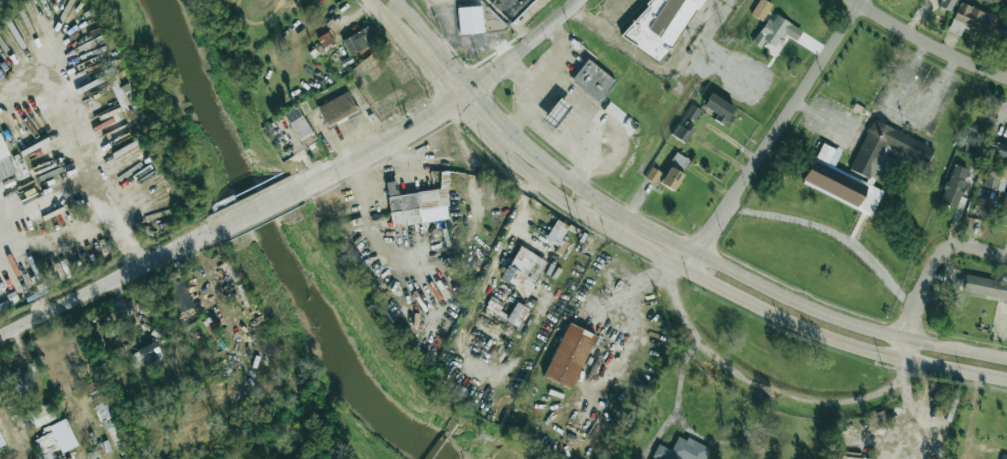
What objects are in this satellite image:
building: (946, 4)
building: (509, 7)
building: (760, 9)
building: (974, 19)
building: (470, 20)
road: (449, 26)
building: (663, 26)
road: (598, 27)
building: (772, 31)
power tower: (725, 38)
building: (325, 40)
building: (357, 40)
road: (481, 41)
road: (434, 44)
road: (522, 44)
road: (927, 44)
road: (413, 50)
road: (542, 72)
road: (517, 73)
road: (672, 74)
road: (907, 76)
building: (592, 81)
traffic signals: (471, 88)
road: (63, 90)
road: (462, 95)
traffic signals: (453, 103)
building: (337, 108)
road: (490, 108)
building: (720, 109)
road: (890, 110)
building: (691, 111)
building: (556, 112)
building: (986, 115)
road: (577, 125)
building: (299, 126)
road: (544, 126)
building: (681, 132)
road: (773, 135)
road: (381, 144)
building: (998, 150)
building: (5, 163)
building: (863, 166)
building: (653, 175)
building: (992, 176)
building: (671, 178)
building: (954, 185)
road: (42, 198)
road: (261, 204)
building: (416, 205)
building: (1003, 209)
road: (119, 225)
road: (831, 230)
building: (556, 232)
river: (268, 240)
power tower: (592, 250)
building: (523, 270)
road: (929, 272)
road: (744, 275)
road: (32, 278)
road: (709, 281)
road: (108, 283)
building: (985, 287)
building: (180, 295)
building: (517, 314)
road: (467, 323)
building: (143, 355)
building: (569, 355)
road: (21, 357)
building: (22, 382)
road: (766, 387)
building: (109, 414)
building: (35, 417)
road: (80, 431)
power tower: (480, 436)
road: (11, 437)
building: (51, 441)
building: (681, 450)
building: (1003, 457)

